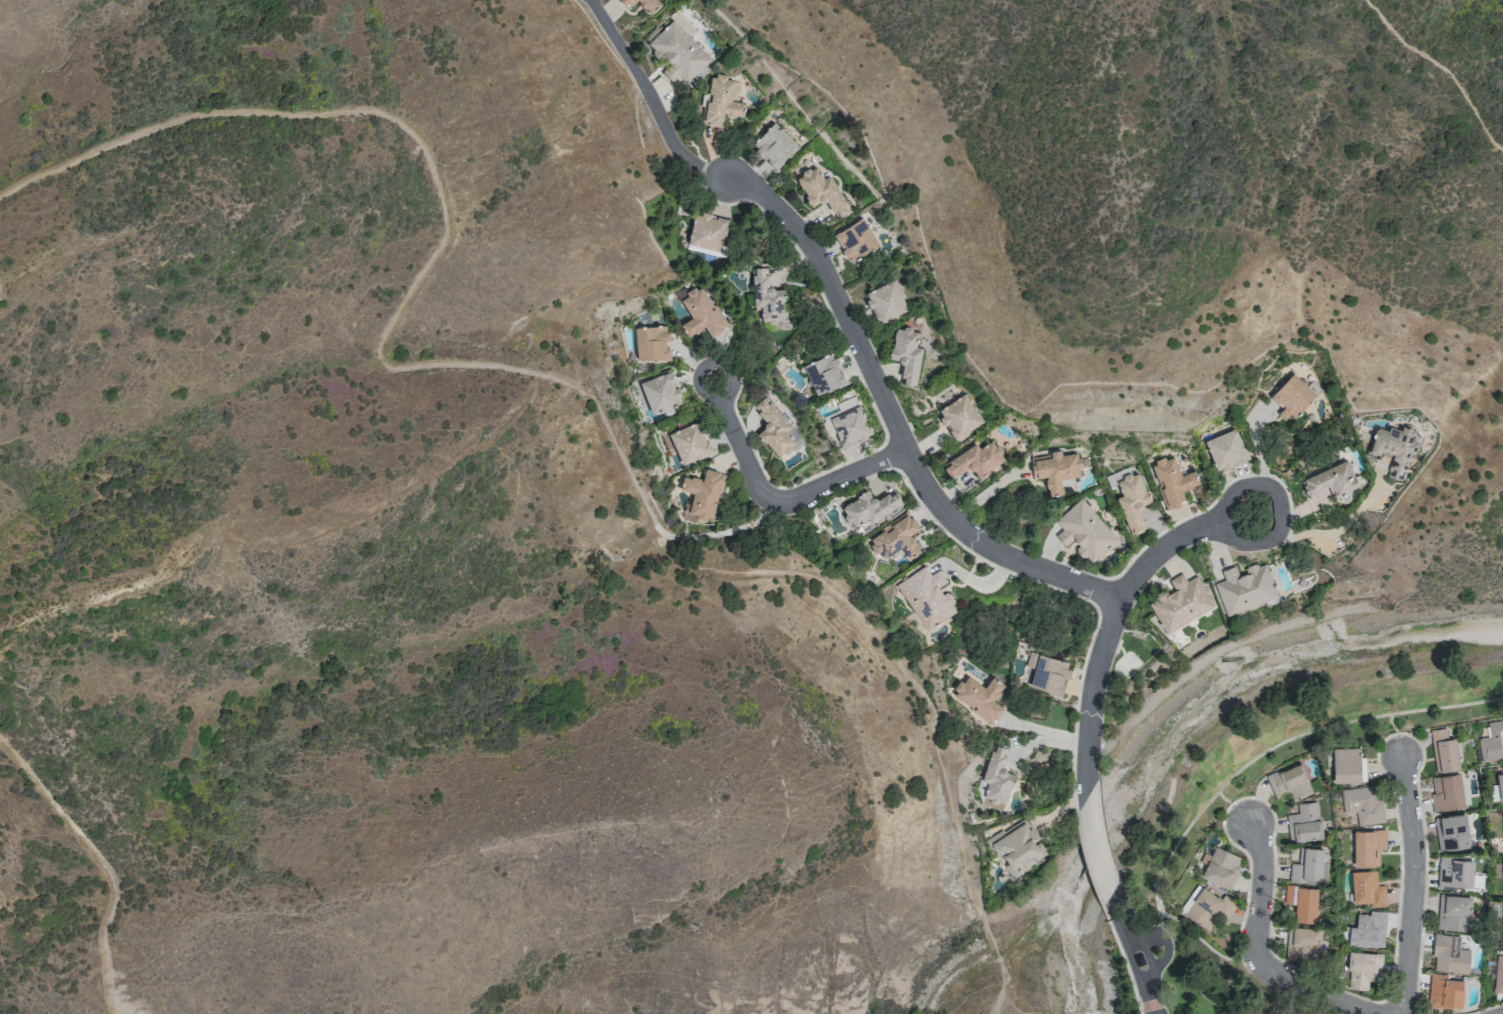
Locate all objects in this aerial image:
building: (644, 5)
building: (678, 50)
road: (1442, 67)
road: (649, 100)
building: (720, 102)
building: (774, 145)
building: (821, 191)
building: (707, 232)
building: (855, 240)
building: (766, 298)
building: (885, 302)
building: (699, 313)
building: (651, 344)
building: (906, 355)
building: (824, 374)
road: (552, 381)
building: (660, 393)
building: (1291, 397)
building: (959, 416)
road: (890, 419)
building: (850, 423)
building: (773, 428)
building: (690, 443)
building: (1394, 448)
building: (1225, 450)
road: (1260, 459)
building: (974, 460)
building: (1055, 470)
building: (1172, 481)
building: (1331, 481)
building: (703, 494)
road: (774, 500)
building: (1132, 501)
building: (870, 508)
road: (1331, 527)
building: (1084, 531)
building: (896, 538)
building: (1244, 588)
building: (925, 598)
building: (1181, 603)
road: (1111, 613)
building: (1047, 673)
building: (979, 697)
road: (1395, 733)
building: (1492, 742)
building: (1443, 751)
building: (1347, 765)
road: (1243, 766)
building: (996, 779)
building: (1288, 781)
building: (1500, 784)
building: (1447, 793)
building: (1362, 804)
road: (1231, 805)
building: (1304, 823)
building: (1451, 832)
road: (1095, 845)
building: (1017, 847)
building: (1368, 847)
road: (100, 864)
building: (1307, 865)
building: (1220, 867)
building: (1502, 867)
building: (1455, 873)
road: (1413, 883)
road: (1258, 888)
building: (1367, 889)
building: (1302, 902)
building: (1206, 906)
building: (1454, 912)
building: (1365, 930)
building: (1502, 930)
road: (1158, 941)
building: (1302, 943)
road: (1136, 952)
building: (1449, 955)
road: (1250, 959)
building: (1362, 969)
building: (1498, 974)
building: (1445, 991)
road: (1316, 994)

